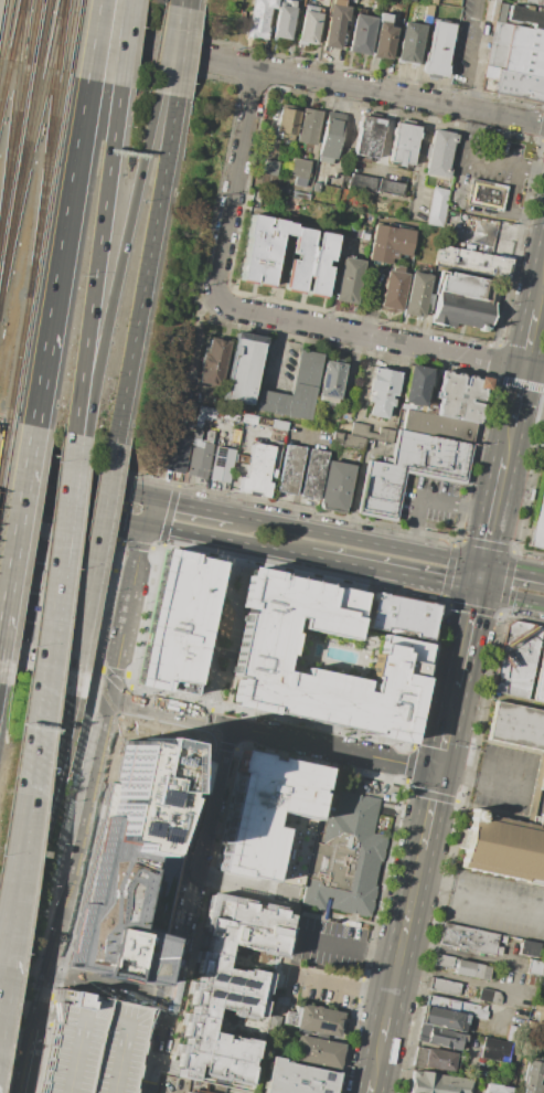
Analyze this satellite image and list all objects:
building: (352, 0)
road: (177, 1)
building: (433, 2)
building: (533, 2)
road: (188, 3)
building: (291, 3)
building: (489, 10)
building: (428, 13)
building: (527, 15)
building: (259, 19)
building: (284, 22)
building: (335, 23)
building: (309, 25)
railway: (4, 28)
railway: (15, 32)
railway: (23, 33)
building: (361, 33)
railway: (33, 34)
railway: (42, 34)
railway: (54, 35)
railway: (62, 36)
railway: (71, 38)
building: (384, 38)
road: (95, 40)
road: (125, 42)
building: (409, 42)
road: (166, 47)
building: (437, 49)
road: (181, 52)
parking lot: (463, 54)
road: (470, 54)
building: (515, 62)
road: (271, 71)
railway: (4, 86)
building: (288, 123)
building: (309, 126)
building: (330, 136)
building: (367, 136)
railway: (9, 140)
building: (403, 144)
railway: (13, 151)
building: (440, 152)
parking lot: (487, 158)
road: (422, 159)
road: (504, 160)
building: (270, 168)
building: (299, 171)
building: (338, 181)
railway: (18, 182)
building: (363, 182)
railway: (23, 183)
building: (455, 184)
railway: (42, 187)
railway: (46, 187)
building: (316, 187)
building: (391, 187)
building: (484, 194)
road: (454, 203)
building: (437, 206)
road: (67, 213)
building: (390, 243)
road: (96, 256)
building: (314, 256)
road: (118, 261)
building: (472, 261)
road: (145, 268)
building: (349, 279)
building: (393, 290)
road: (541, 293)
building: (416, 295)
road: (369, 300)
building: (463, 301)
road: (265, 316)
road: (531, 338)
road: (278, 353)
railway: (18, 360)
building: (213, 362)
building: (242, 370)
building: (330, 381)
building: (415, 384)
road: (40, 386)
building: (296, 390)
building: (382, 392)
building: (460, 395)
road: (518, 396)
building: (184, 410)
building: (204, 410)
building: (199, 420)
road: (1, 421)
building: (264, 421)
railway: (7, 423)
building: (282, 424)
building: (320, 424)
building: (437, 426)
railway: (1, 433)
road: (81, 433)
building: (264, 433)
building: (358, 435)
building: (209, 436)
road: (306, 436)
building: (235, 437)
building: (273, 438)
road: (509, 442)
railway: (3, 446)
building: (177, 453)
building: (199, 457)
road: (237, 461)
building: (222, 464)
building: (289, 469)
building: (410, 470)
building: (257, 471)
building: (313, 474)
road: (152, 478)
road: (297, 480)
road: (75, 482)
building: (335, 486)
road: (430, 496)
traffic signals: (152, 499)
parking lot: (430, 505)
road: (45, 506)
road: (121, 507)
road: (192, 507)
road: (493, 510)
road: (148, 511)
road: (168, 514)
road: (118, 518)
road: (260, 520)
building: (538, 522)
traffic signals: (145, 523)
road: (17, 530)
road: (227, 539)
road: (118, 543)
road: (385, 544)
road: (135, 545)
road: (8, 546)
road: (156, 548)
traffic signals: (482, 564)
road: (90, 567)
road: (513, 569)
road: (111, 570)
road: (124, 572)
road: (393, 572)
road: (56, 574)
road: (479, 577)
road: (130, 586)
road: (116, 591)
traffic signals: (477, 591)
road: (51, 596)
road: (510, 597)
road: (439, 602)
road: (104, 603)
building: (401, 616)
road: (53, 618)
building: (177, 622)
road: (234, 622)
road: (49, 626)
building: (321, 658)
building: (515, 659)
building: (71, 661)
road: (131, 665)
road: (95, 668)
road: (460, 670)
road: (114, 671)
road: (114, 673)
road: (128, 675)
building: (540, 682)
road: (126, 700)
road: (211, 707)
road: (169, 712)
road: (210, 715)
building: (518, 725)
road: (334, 747)
road: (441, 761)
road: (354, 770)
traffic signals: (439, 772)
road: (93, 773)
road: (388, 777)
parking lot: (505, 777)
road: (482, 781)
building: (542, 782)
road: (433, 796)
road: (38, 813)
building: (268, 816)
building: (505, 847)
building: (346, 857)
building: (132, 862)
road: (13, 879)
road: (239, 883)
road: (478, 894)
road: (189, 902)
parking lot: (497, 904)
road: (408, 909)
road: (56, 932)
building: (469, 938)
parking lot: (333, 946)
road: (349, 946)
building: (531, 948)
road: (454, 952)
building: (442, 961)
building: (534, 967)
building: (471, 969)
building: (542, 969)
road: (290, 970)
road: (459, 977)
road: (340, 986)
building: (445, 986)
building: (233, 991)
building: (489, 995)
road: (446, 996)
building: (543, 1000)
building: (455, 1006)
building: (537, 1015)
road: (46, 1018)
road: (385, 1019)
building: (445, 1019)
building: (312, 1020)
building: (274, 1022)
building: (511, 1032)
building: (440, 1037)
building: (94, 1044)
parking lot: (94, 1044)
building: (494, 1050)
building: (317, 1051)
road: (29, 1055)
building: (438, 1060)
road: (376, 1061)
building: (532, 1076)
building: (298, 1078)
building: (438, 1083)
road: (148, 1086)
road: (371, 1086)
building: (497, 1089)
road: (179, 1090)
building: (188, 1092)
road: (241, 1092)

